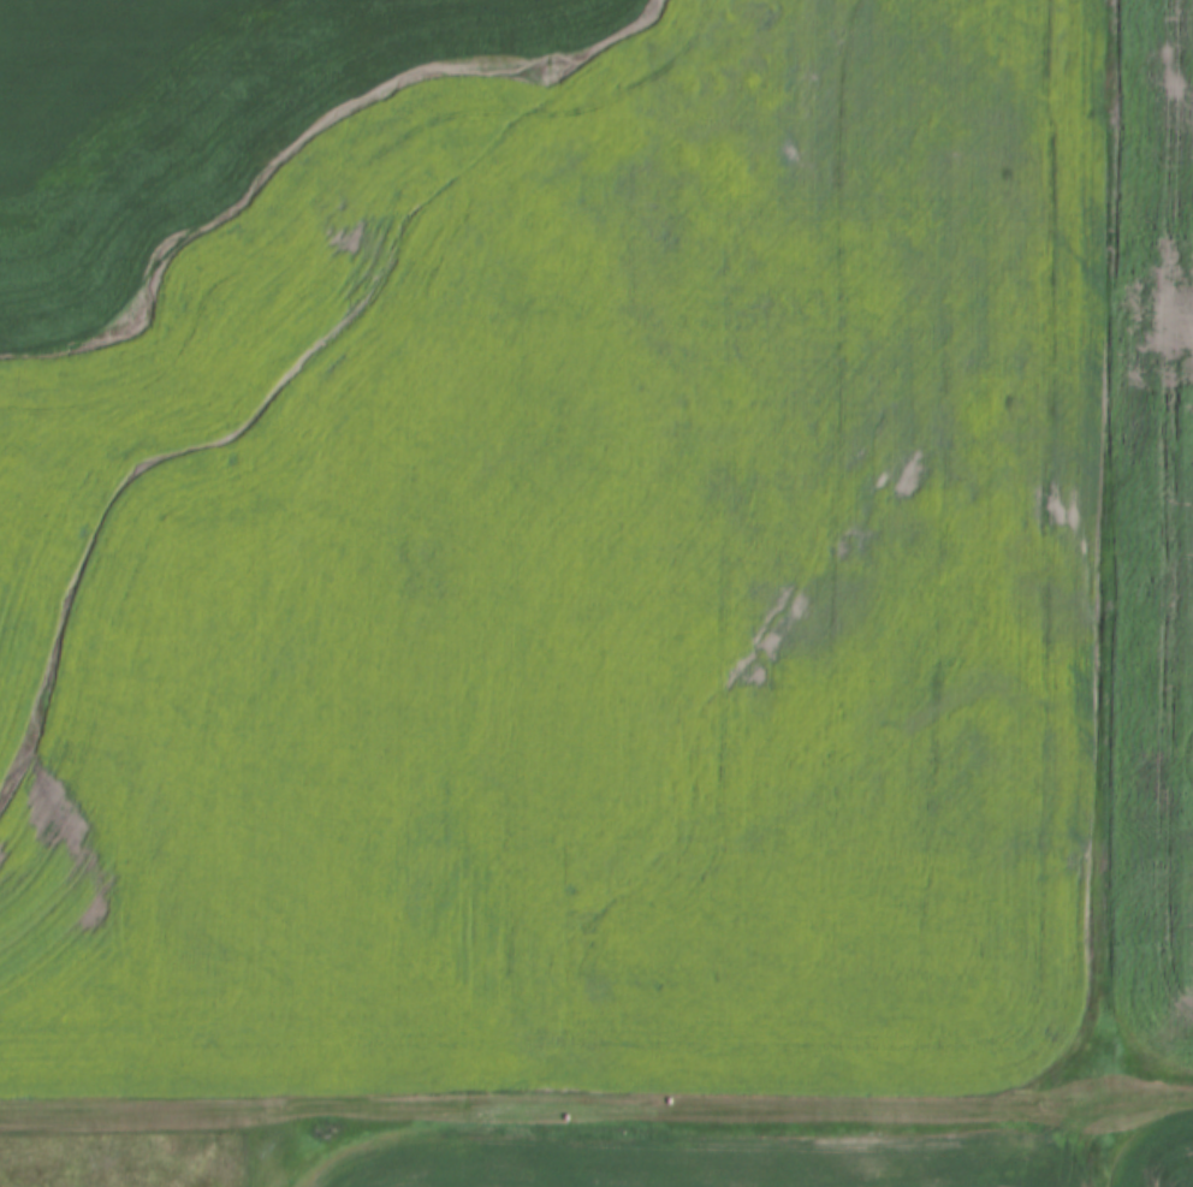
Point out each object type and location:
road: (595, 1109)

